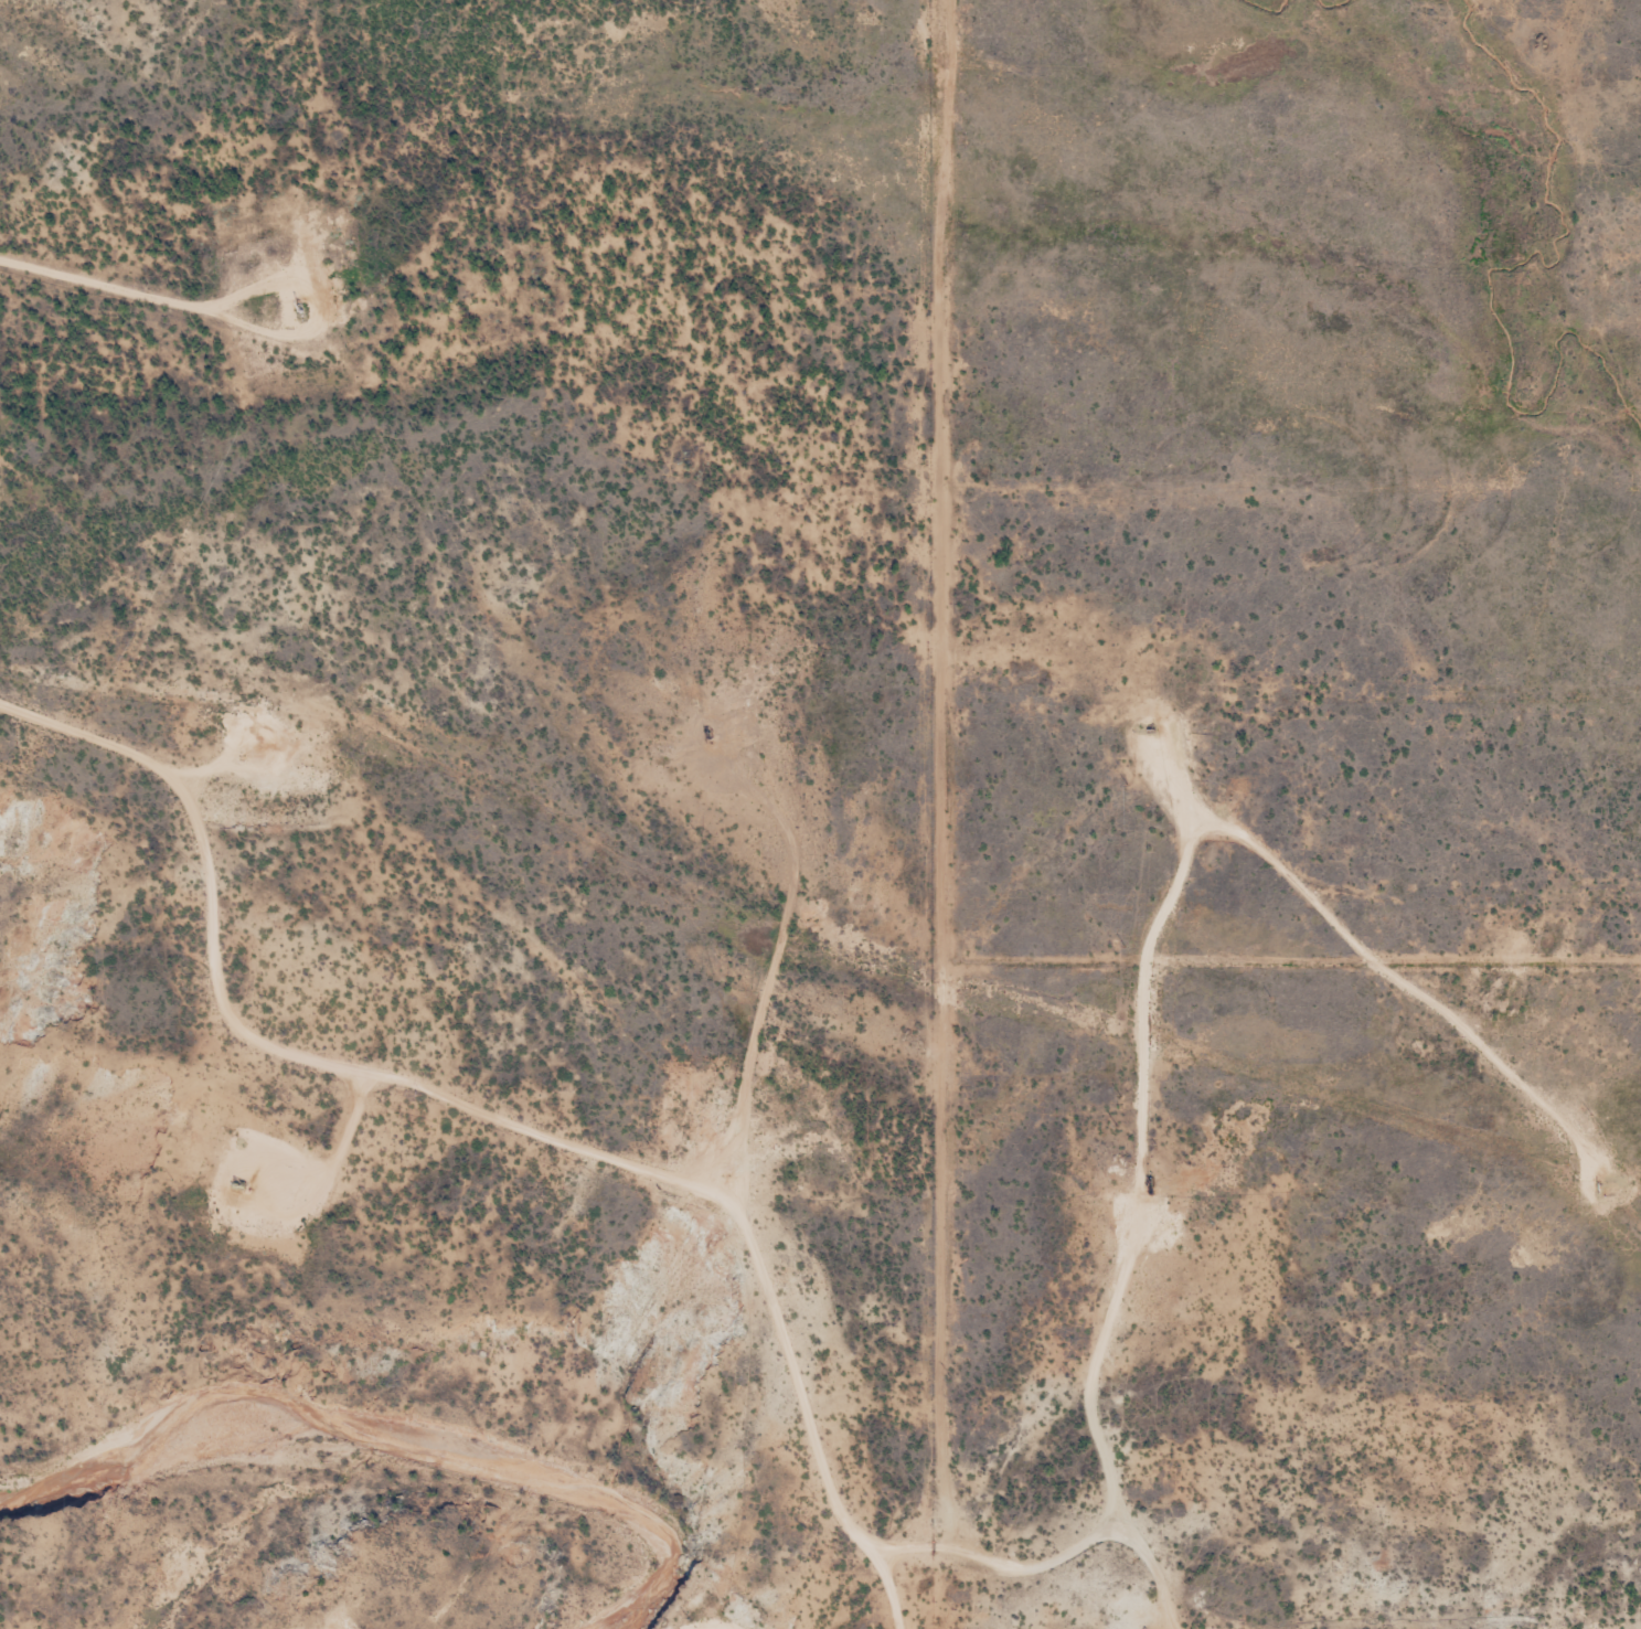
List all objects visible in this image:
road: (160, 298)
road: (949, 1550)
road: (1149, 1562)
road: (334, 1626)

